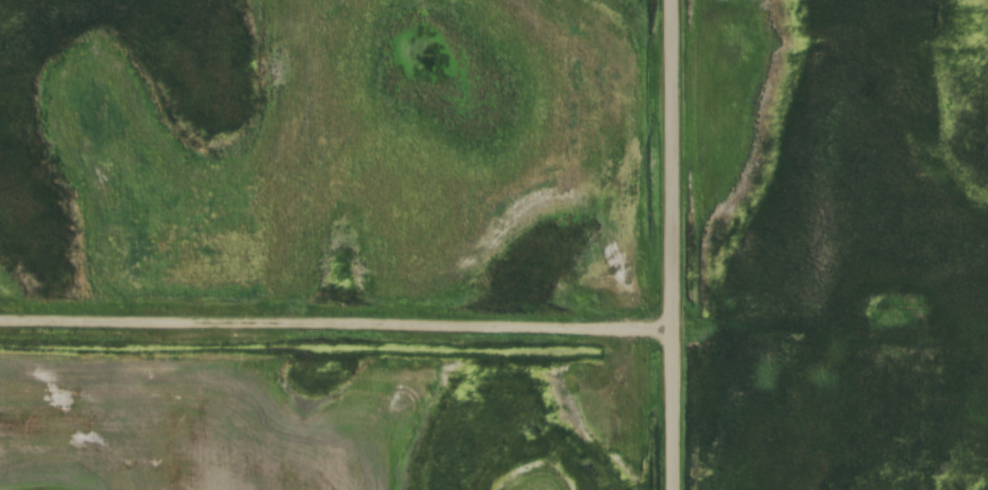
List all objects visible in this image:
road: (670, 245)
road: (335, 336)

